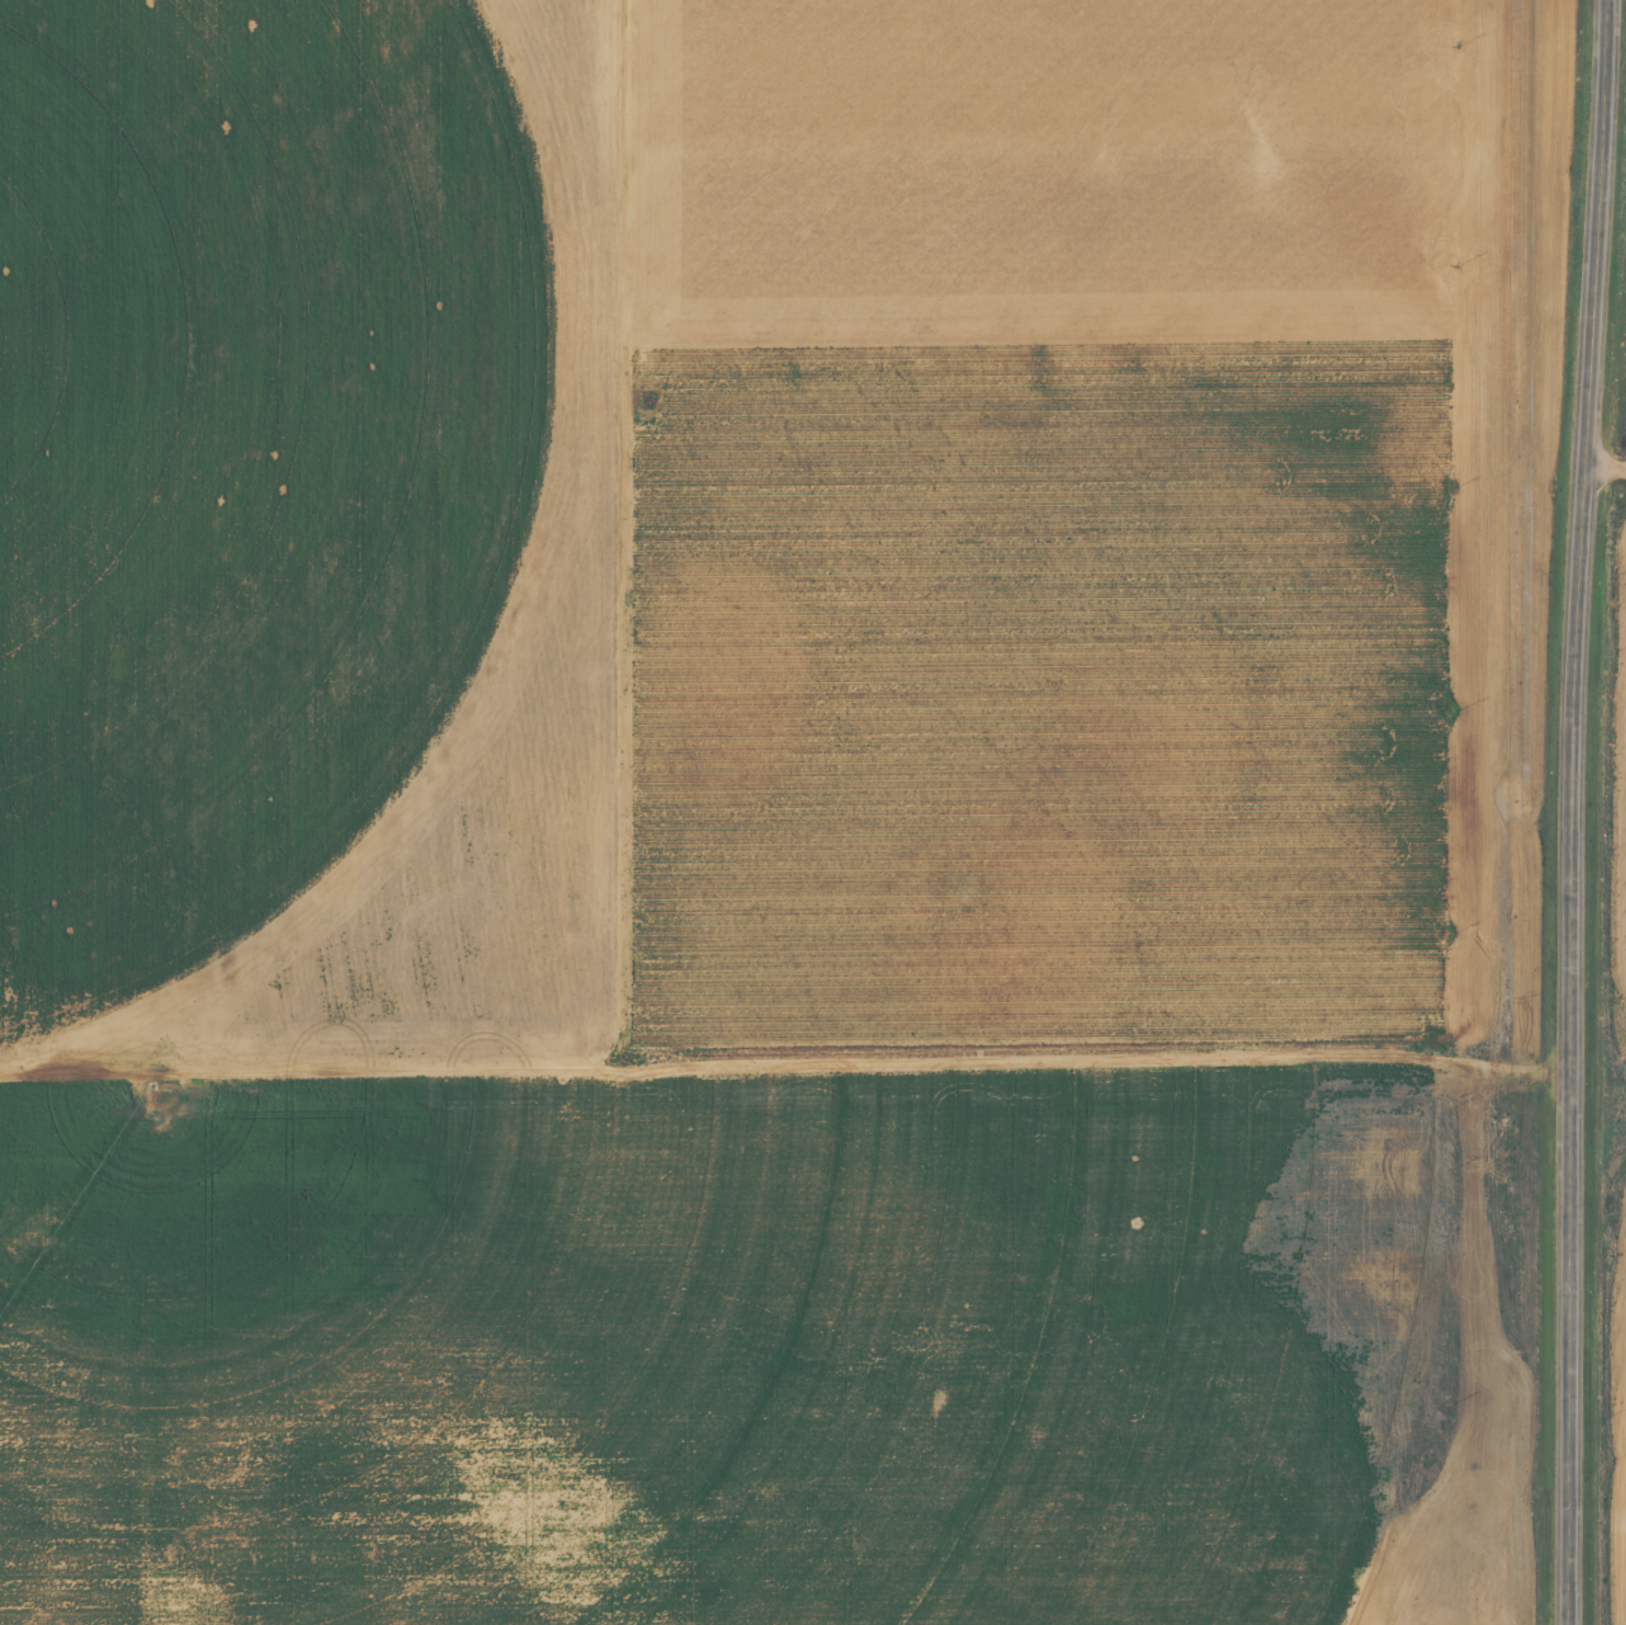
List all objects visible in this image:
road: (1607, 473)
road: (1585, 811)

